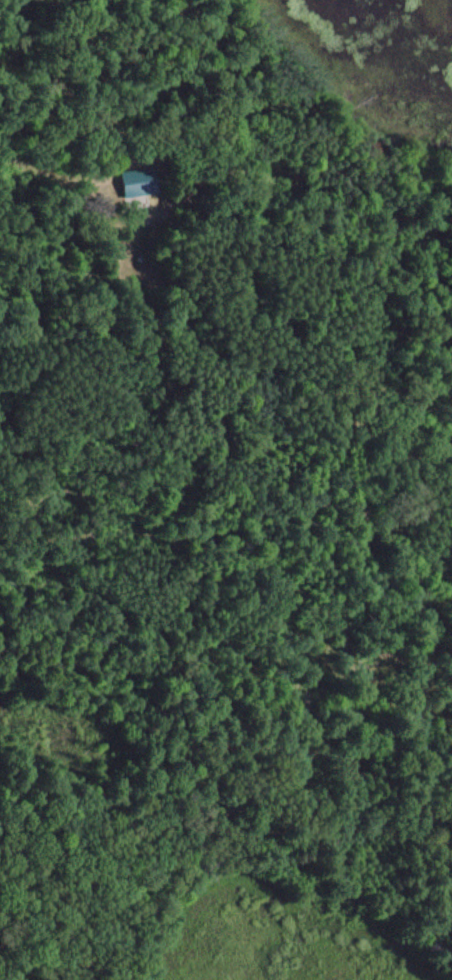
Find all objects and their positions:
building: (129, 175)

